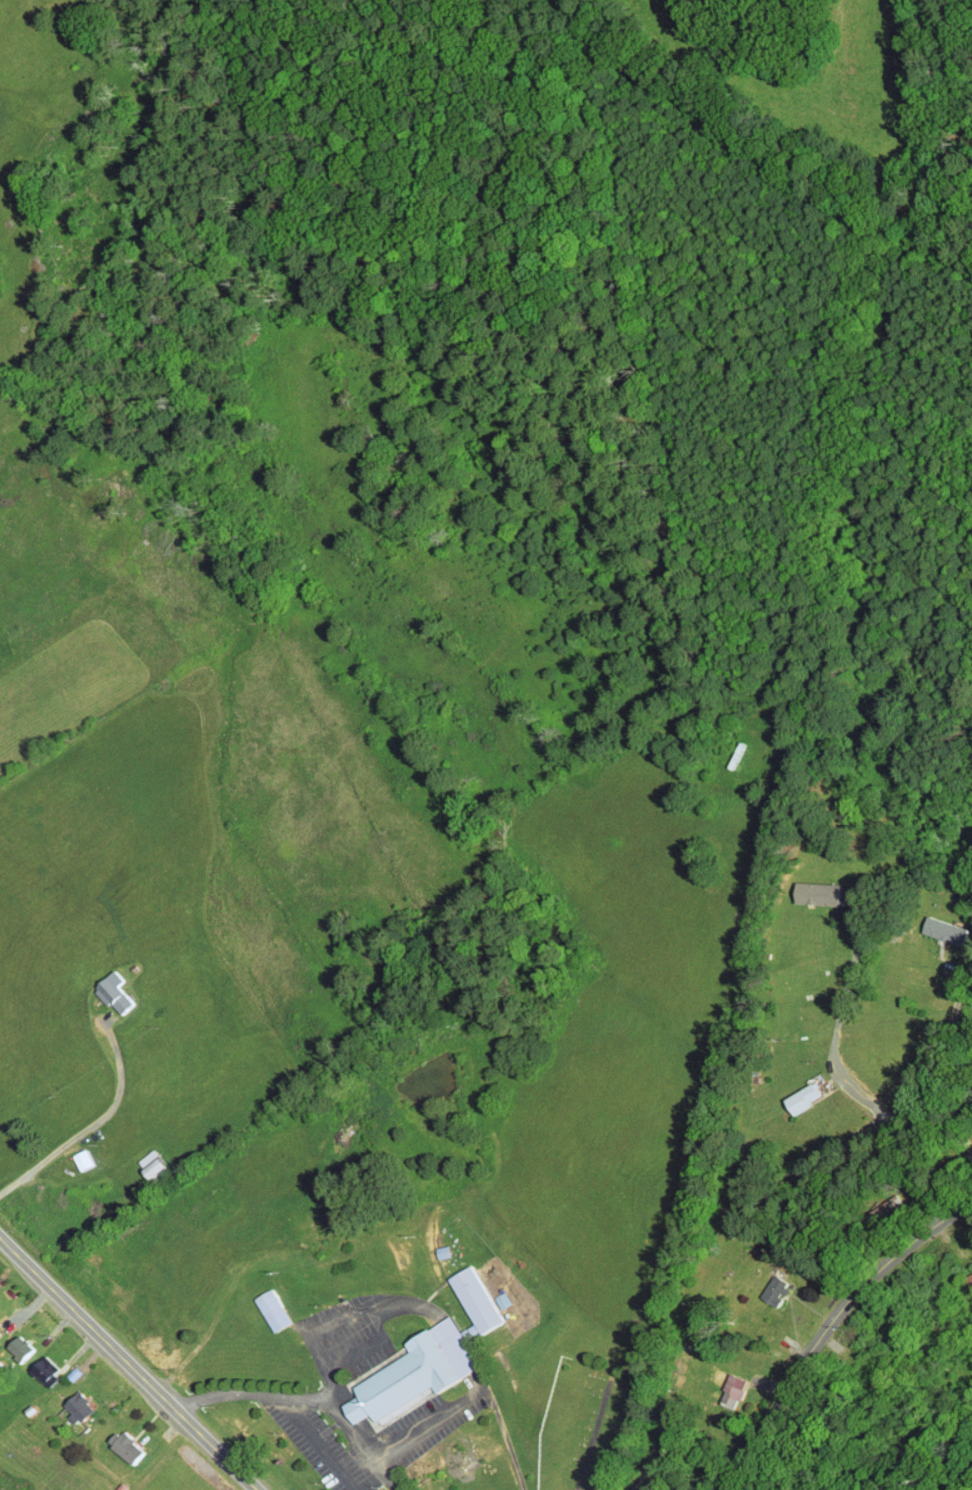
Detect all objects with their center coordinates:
road: (853, 1090)
road: (93, 1127)
road: (222, 1308)
road: (829, 1325)
road: (128, 1364)

